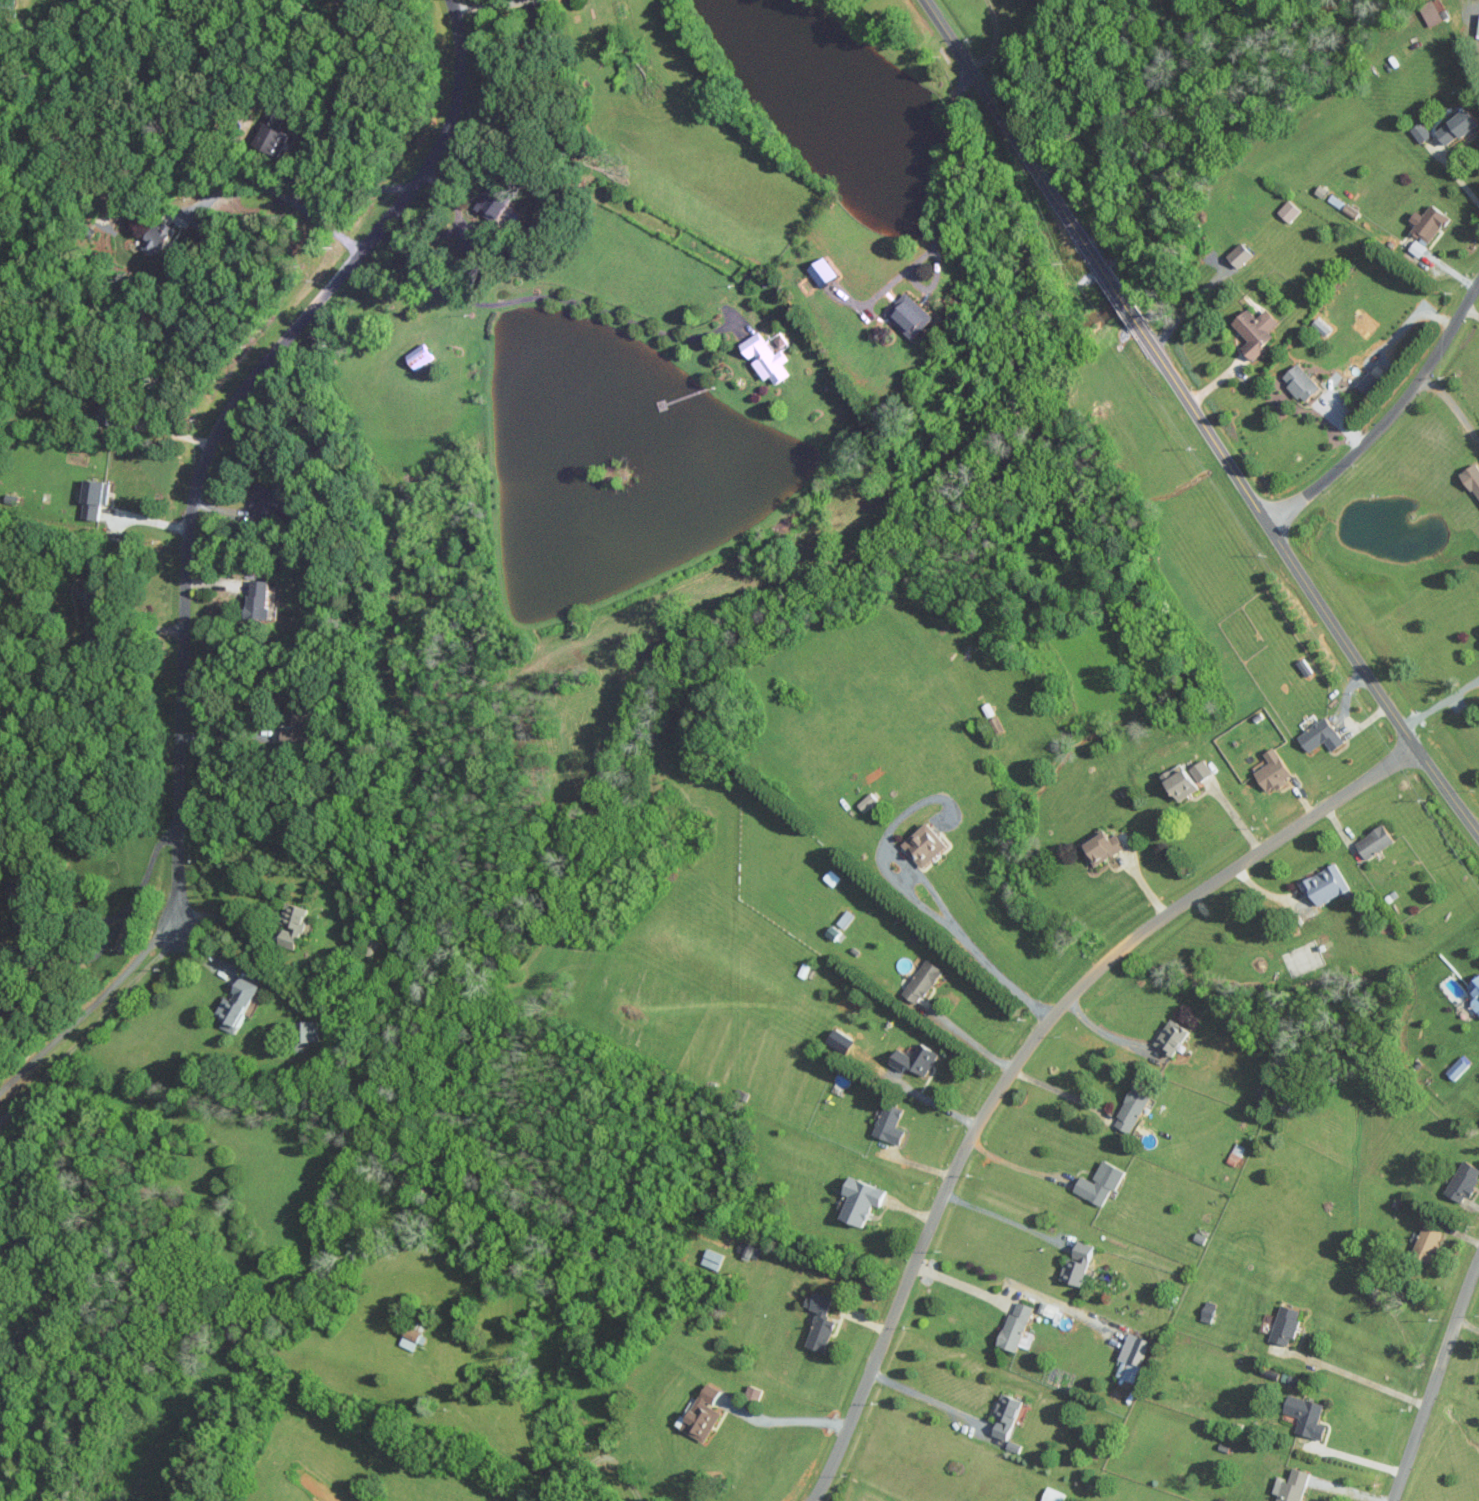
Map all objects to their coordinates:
building: (7, 4)
road: (483, 4)
building: (1433, 12)
road: (993, 38)
building: (1459, 125)
building: (1421, 131)
building: (270, 134)
road: (333, 170)
road: (1454, 173)
road: (944, 194)
road: (279, 197)
building: (494, 201)
building: (1290, 210)
building: (1432, 222)
building: (156, 237)
building: (1418, 248)
building: (1241, 254)
building: (822, 271)
road: (544, 297)
road: (1191, 301)
road: (1473, 312)
building: (909, 314)
road: (1407, 321)
building: (1320, 326)
building: (1257, 330)
building: (781, 339)
building: (420, 355)
building: (765, 357)
building: (1301, 381)
building: (1371, 383)
road: (1454, 407)
road: (1201, 414)
road: (1390, 418)
road: (211, 425)
building: (1472, 477)
building: (94, 497)
building: (266, 500)
building: (259, 598)
road: (133, 631)
road: (1438, 688)
building: (298, 729)
building: (1322, 735)
building: (1274, 770)
building: (1188, 778)
building: (867, 802)
building: (1376, 841)
building: (926, 844)
building: (1103, 847)
building: (1326, 884)
road: (217, 916)
road: (53, 920)
building: (293, 924)
road: (963, 948)
road: (209, 964)
building: (923, 981)
building: (1475, 993)
building: (237, 1005)
road: (88, 1007)
road: (90, 1025)
building: (306, 1031)
road: (1104, 1031)
building: (1172, 1037)
road: (973, 1038)
road: (1029, 1052)
building: (916, 1059)
building: (1459, 1066)
road: (1064, 1094)
road: (934, 1102)
building: (1132, 1110)
building: (890, 1123)
building: (1235, 1154)
road: (1023, 1157)
building: (1464, 1181)
building: (1101, 1184)
building: (862, 1201)
road: (1006, 1219)
building: (1428, 1243)
building: (751, 1252)
building: (713, 1259)
building: (1077, 1264)
road: (960, 1284)
building: (821, 1321)
building: (1016, 1325)
building: (1286, 1325)
road: (1471, 1326)
building: (414, 1334)
building: (1133, 1357)
road: (1357, 1378)
road: (1439, 1389)
building: (754, 1393)
road: (928, 1401)
building: (704, 1413)
building: (1006, 1415)
building: (1307, 1416)
road: (784, 1419)
road: (1359, 1459)
building: (1293, 1486)
building: (1053, 1495)

